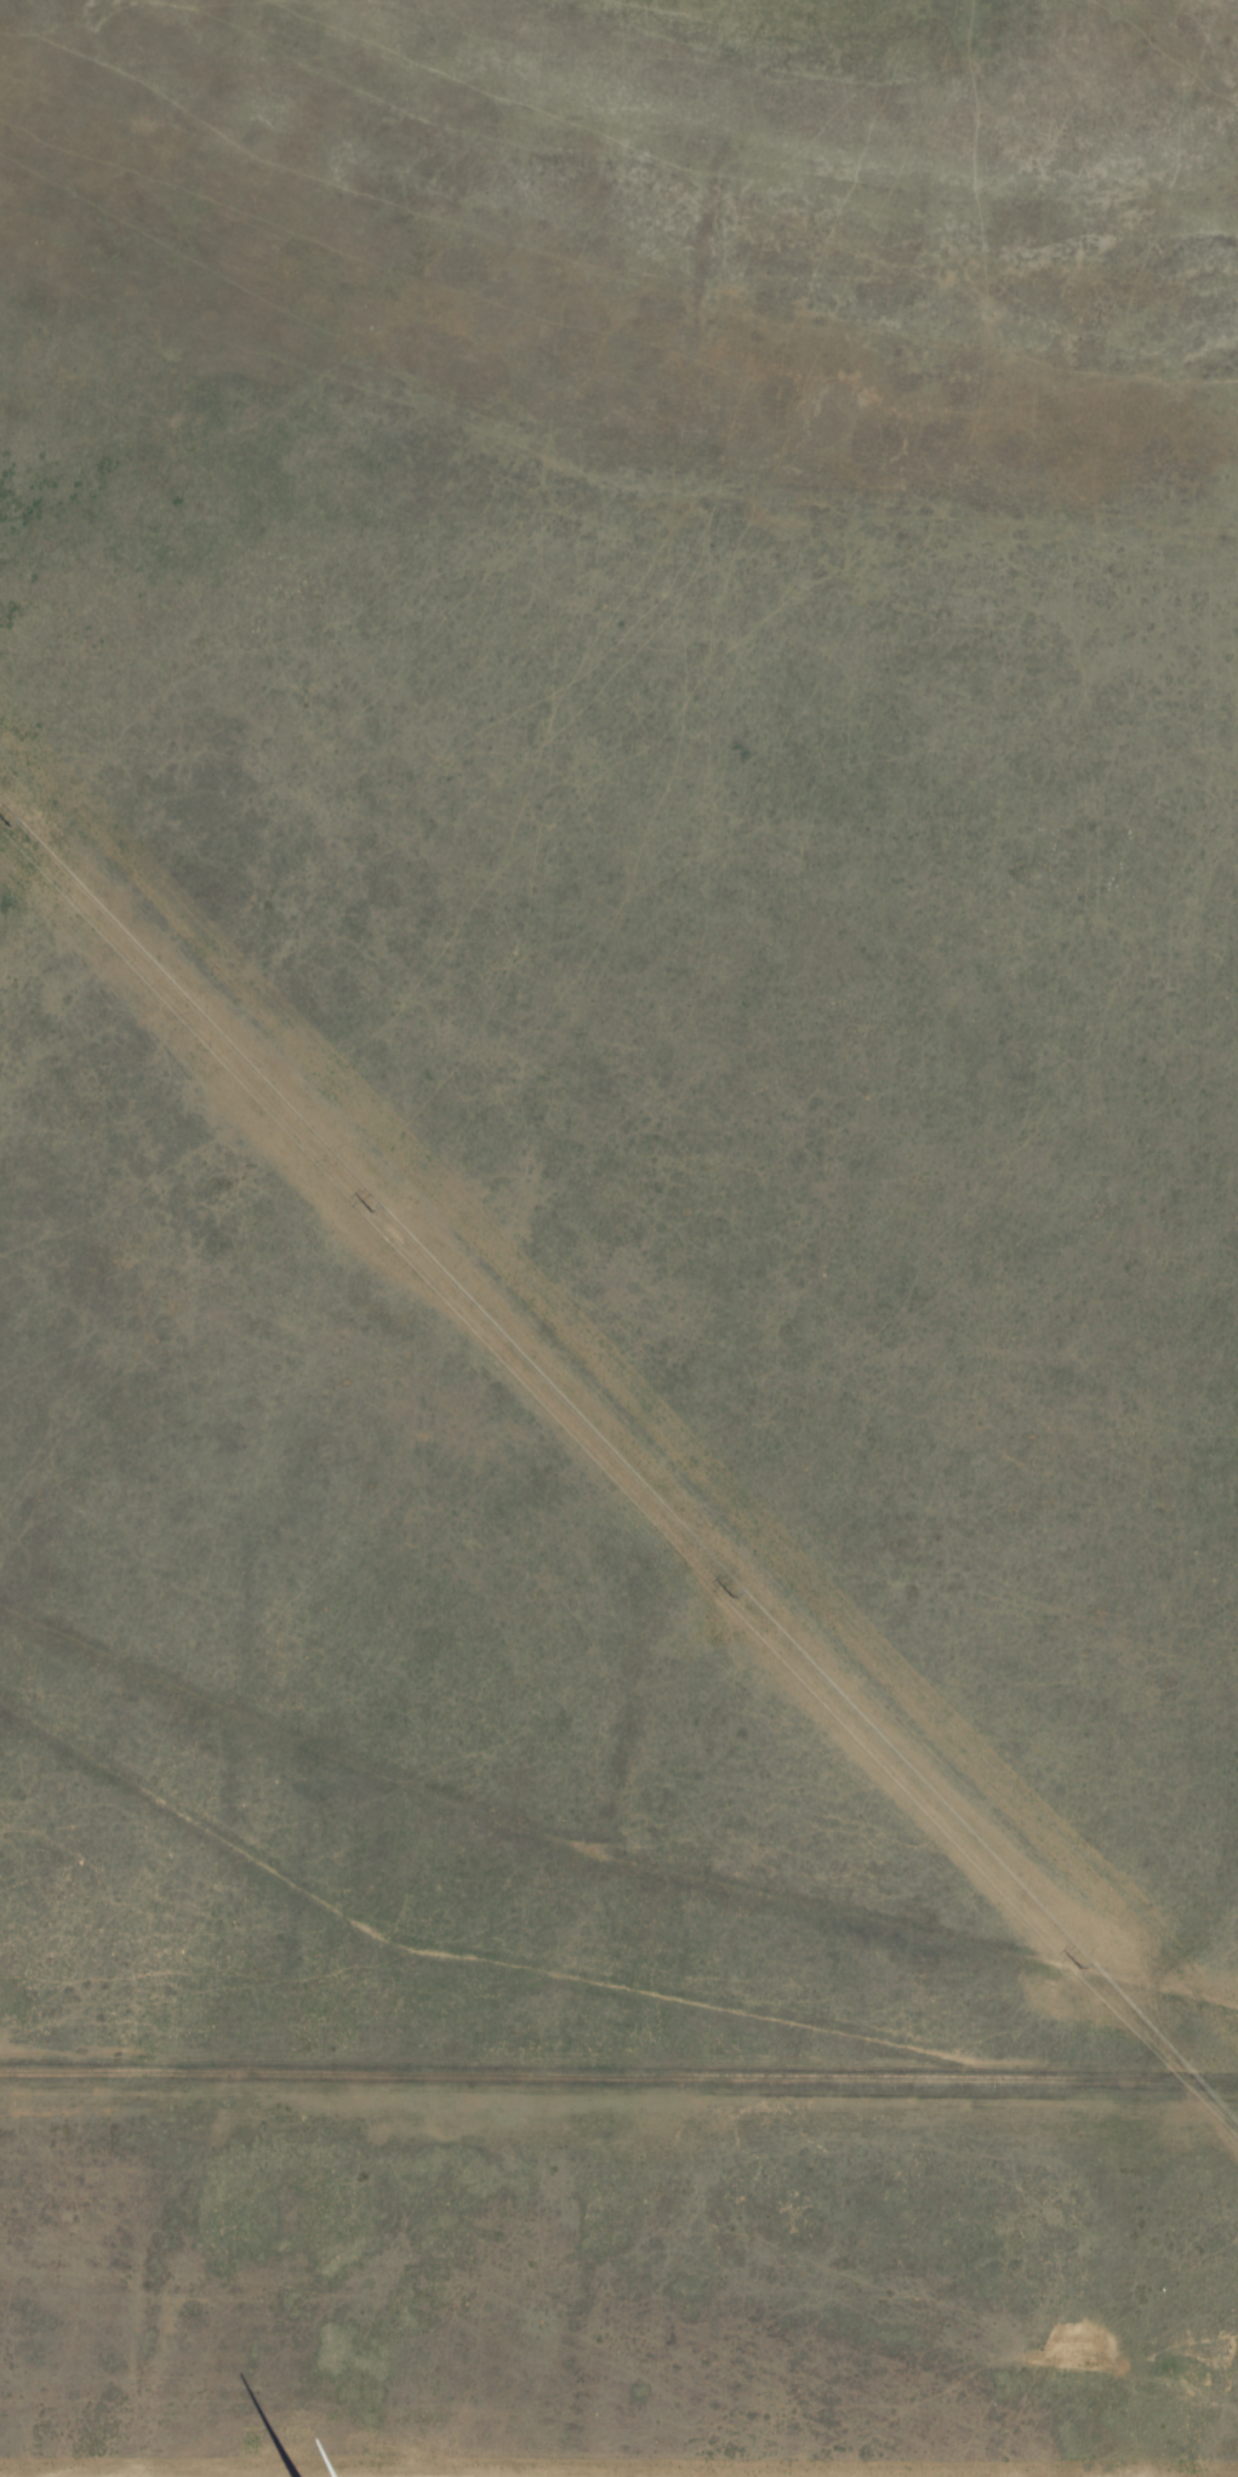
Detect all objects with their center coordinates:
road: (618, 2082)

